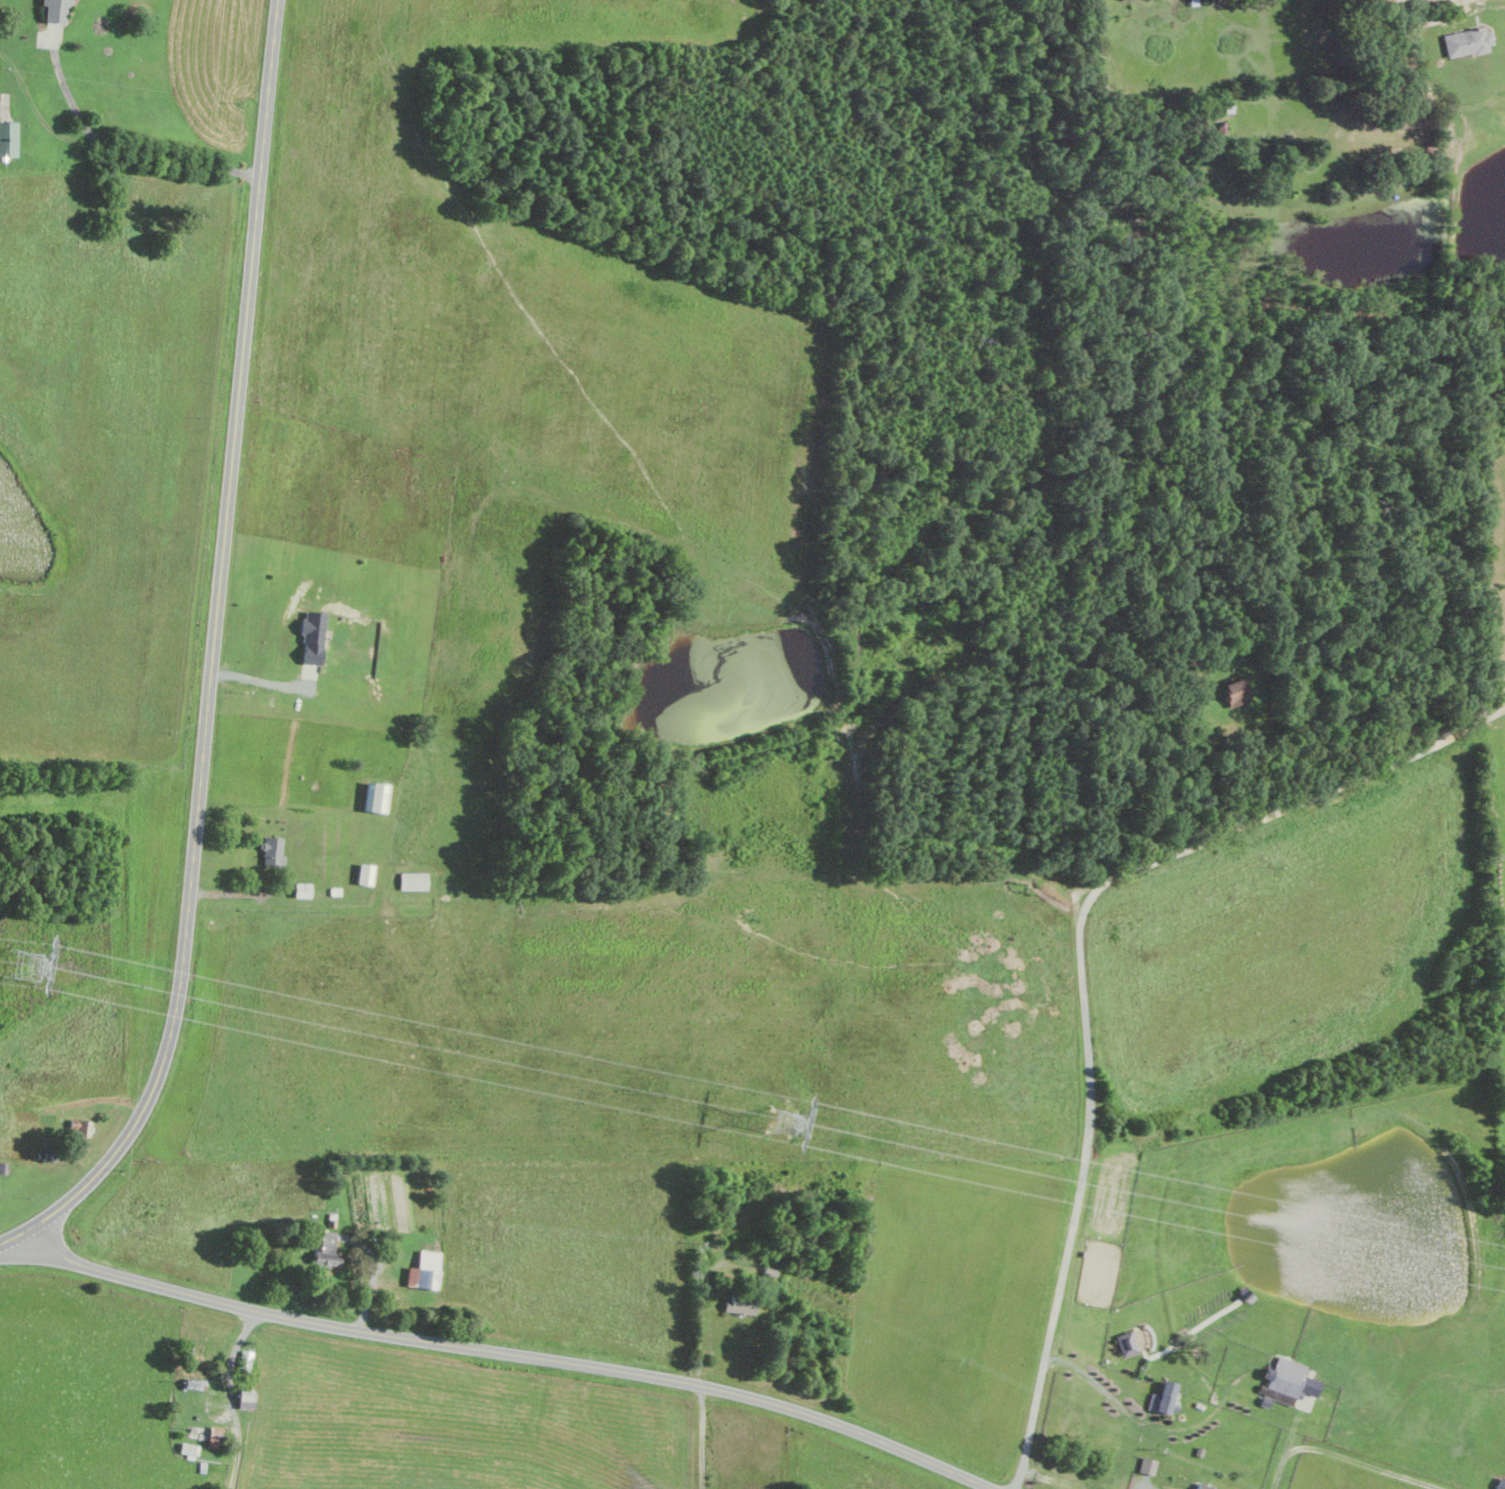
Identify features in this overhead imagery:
building: (57, 10)
road: (1429, 21)
building: (1468, 42)
road: (68, 91)
road: (1452, 122)
building: (9, 140)
road: (108, 144)
building: (314, 638)
road: (213, 657)
road: (261, 680)
building: (378, 796)
building: (273, 850)
building: (366, 874)
building: (414, 880)
power tower: (24, 966)
road: (1080, 967)
power tower: (779, 1125)
building: (328, 1249)
building: (427, 1270)
road: (705, 1321)
building: (1142, 1338)
building: (1127, 1343)
road: (506, 1354)
building: (1290, 1380)
road: (1100, 1385)
road: (233, 1397)
building: (1165, 1398)
road: (705, 1437)
building: (215, 1441)
building: (190, 1449)
road: (1284, 1455)
building: (1148, 1466)
building: (1501, 1484)
building: (1203, 1486)

